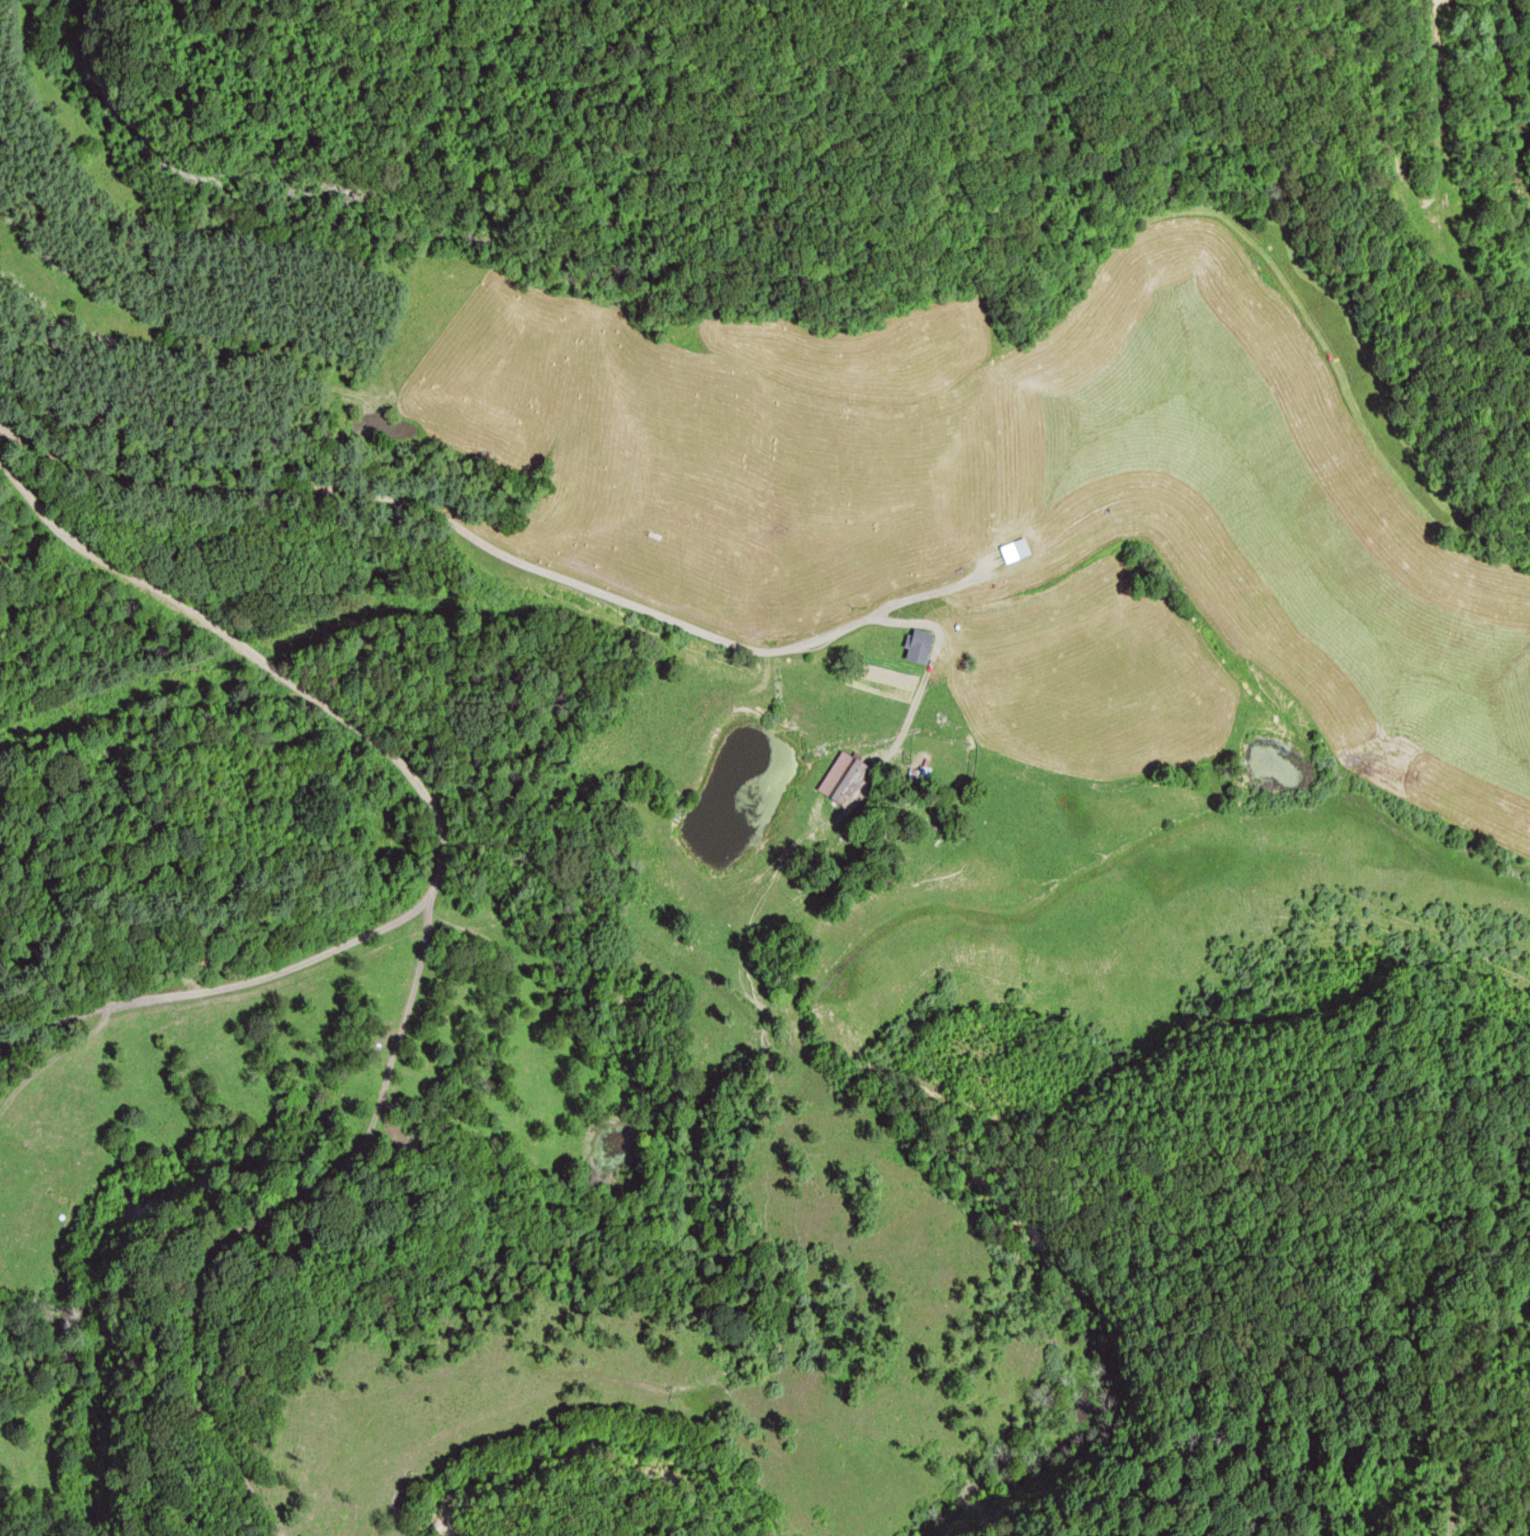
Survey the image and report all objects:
building: (1017, 551)
building: (921, 647)
building: (844, 778)
road: (406, 973)
road: (261, 975)

